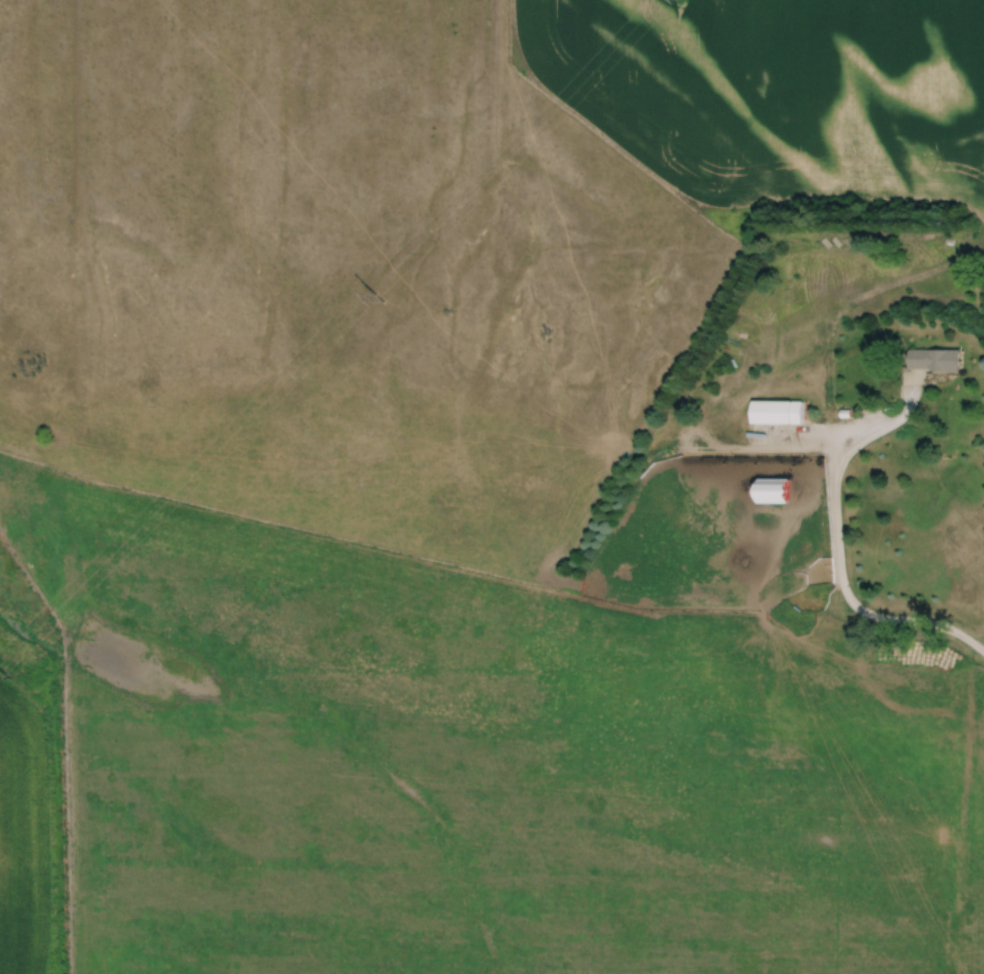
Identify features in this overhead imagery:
power tower: (371, 291)
building: (934, 360)
building: (777, 413)
road: (804, 443)
building: (772, 492)
road: (839, 545)
power tower: (9, 676)

